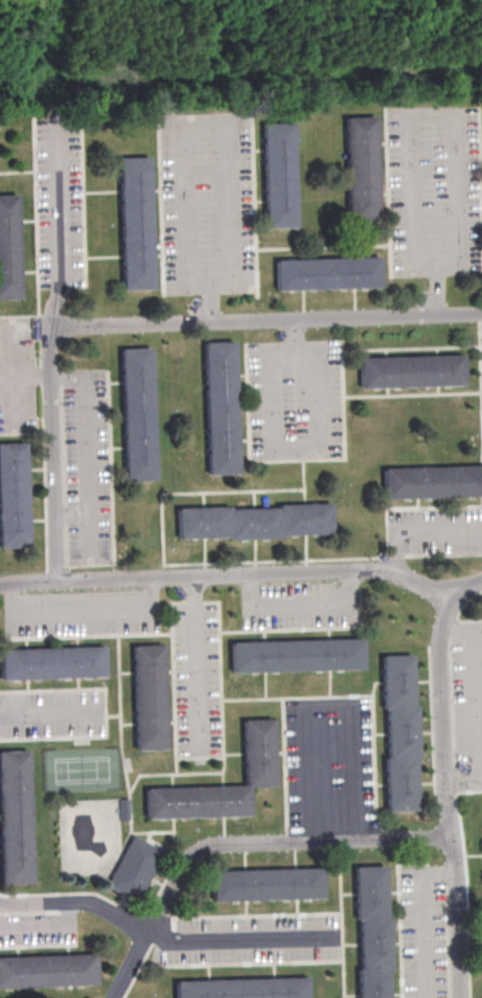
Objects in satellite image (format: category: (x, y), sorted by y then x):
road: (454, 117)
road: (222, 127)
building: (360, 169)
building: (278, 175)
parking lot: (435, 191)
parking lot: (207, 203)
parking lot: (58, 204)
building: (135, 222)
road: (59, 232)
building: (9, 248)
building: (327, 273)
road: (139, 325)
building: (410, 371)
parking lot: (16, 375)
parking lot: (294, 399)
building: (221, 409)
building: (138, 417)
road: (86, 445)
road: (313, 447)
parking lot: (86, 467)
building: (432, 482)
building: (13, 499)
building: (255, 524)
road: (418, 532)
road: (243, 575)
parking lot: (300, 605)
road: (300, 609)
parking lot: (81, 613)
road: (85, 615)
building: (296, 655)
building: (51, 662)
road: (195, 662)
parking lot: (196, 680)
building: (148, 697)
parking lot: (468, 697)
road: (328, 707)
road: (476, 709)
parking lot: (51, 713)
road: (46, 714)
building: (399, 728)
building: (257, 752)
parking lot: (329, 764)
park: (80, 770)
road: (443, 794)
building: (14, 818)
road: (237, 845)
building: (133, 868)
building: (266, 884)
road: (76, 903)
road: (45, 926)
parking lot: (37, 929)
parking lot: (422, 932)
building: (370, 933)
parking lot: (250, 939)
road: (238, 940)
road: (426, 940)
building: (48, 970)
building: (242, 988)

